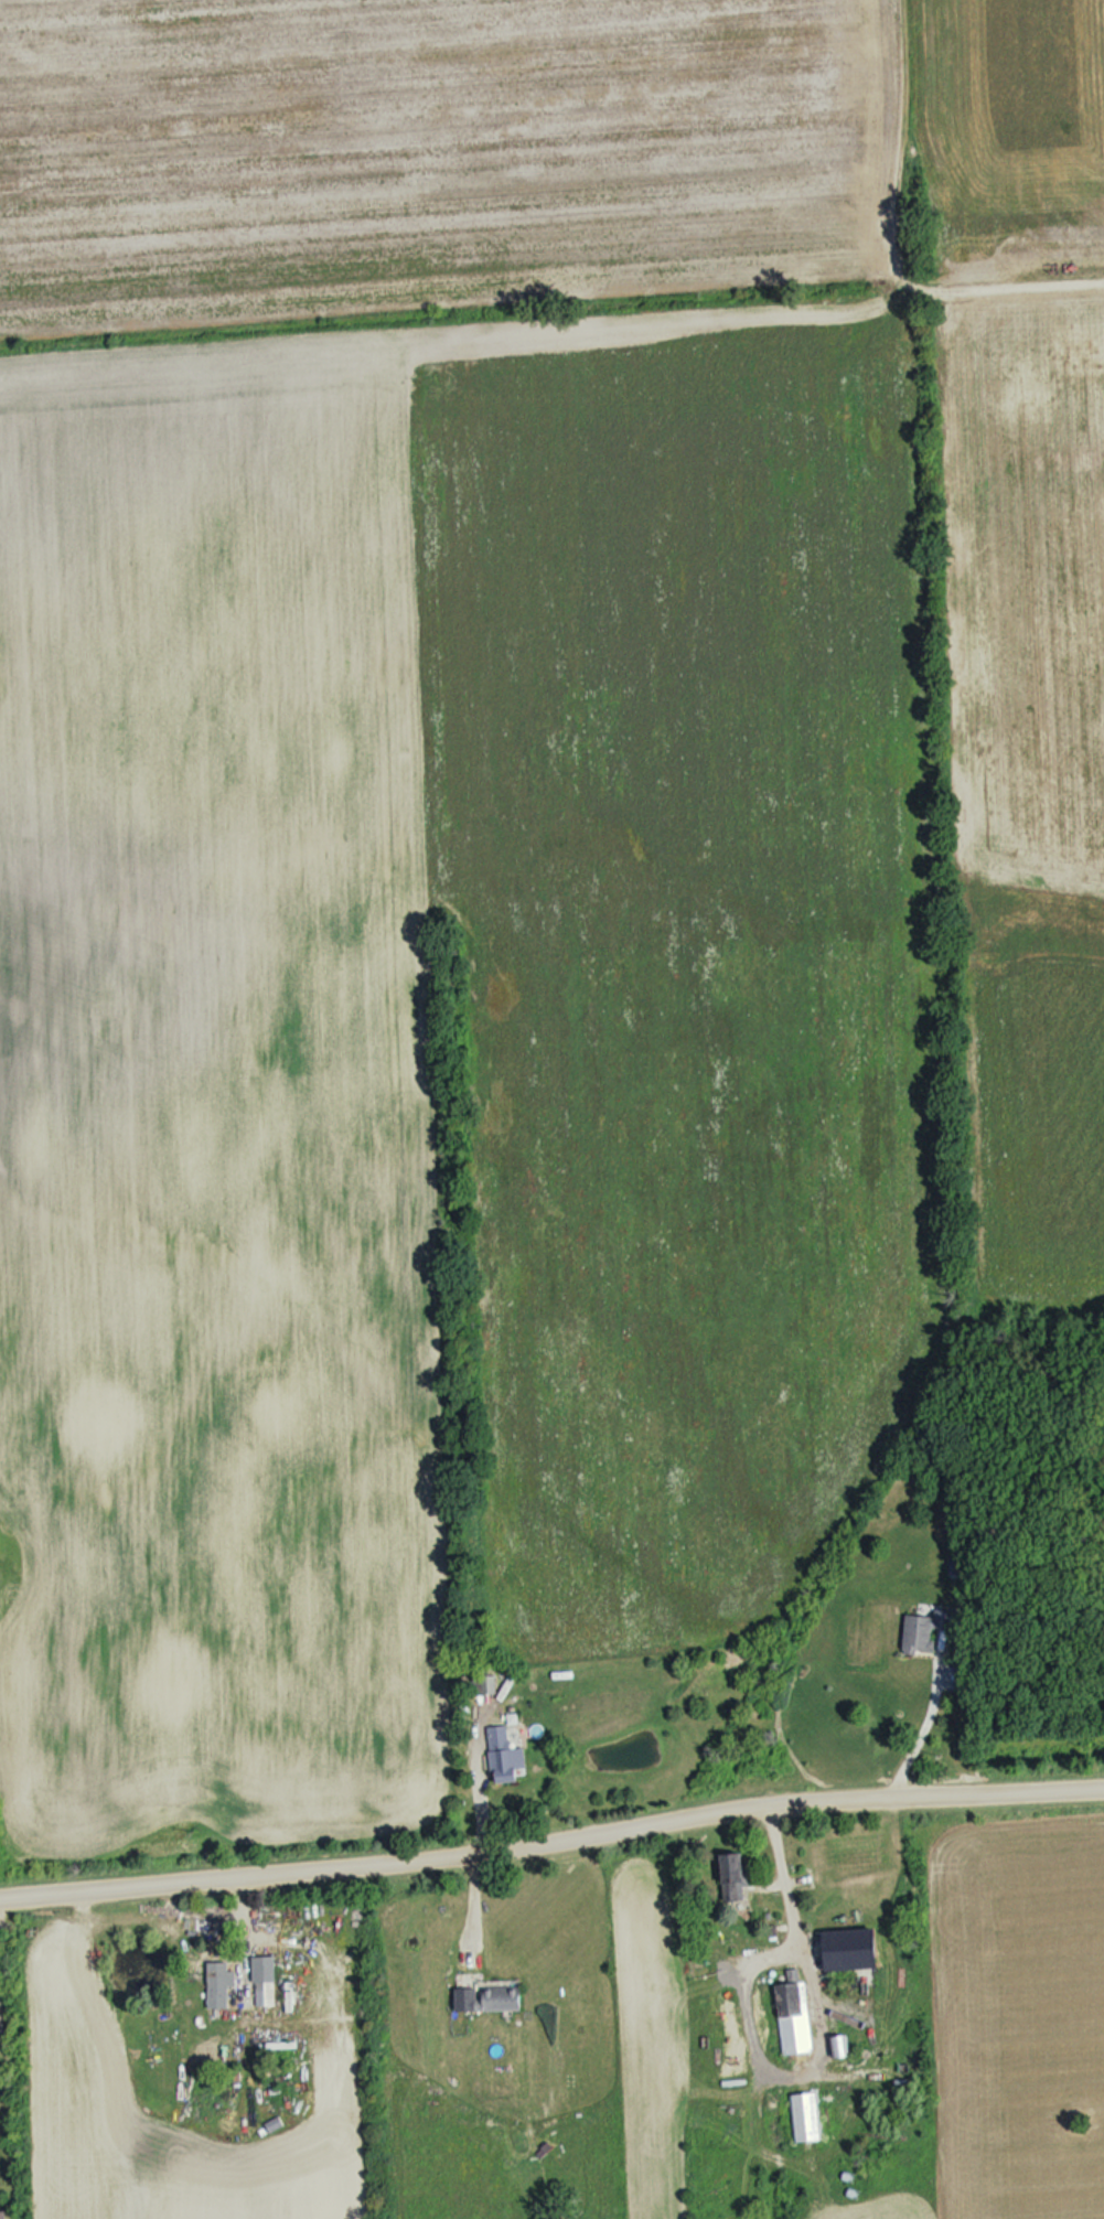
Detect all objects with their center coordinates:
building: (920, 1627)
building: (505, 1752)
road: (471, 1768)
road: (551, 1836)
building: (733, 1874)
road: (785, 1882)
building: (266, 1976)
building: (217, 1980)
building: (494, 1995)
building: (795, 2015)
building: (840, 2045)
building: (806, 2115)
building: (3, 2213)

